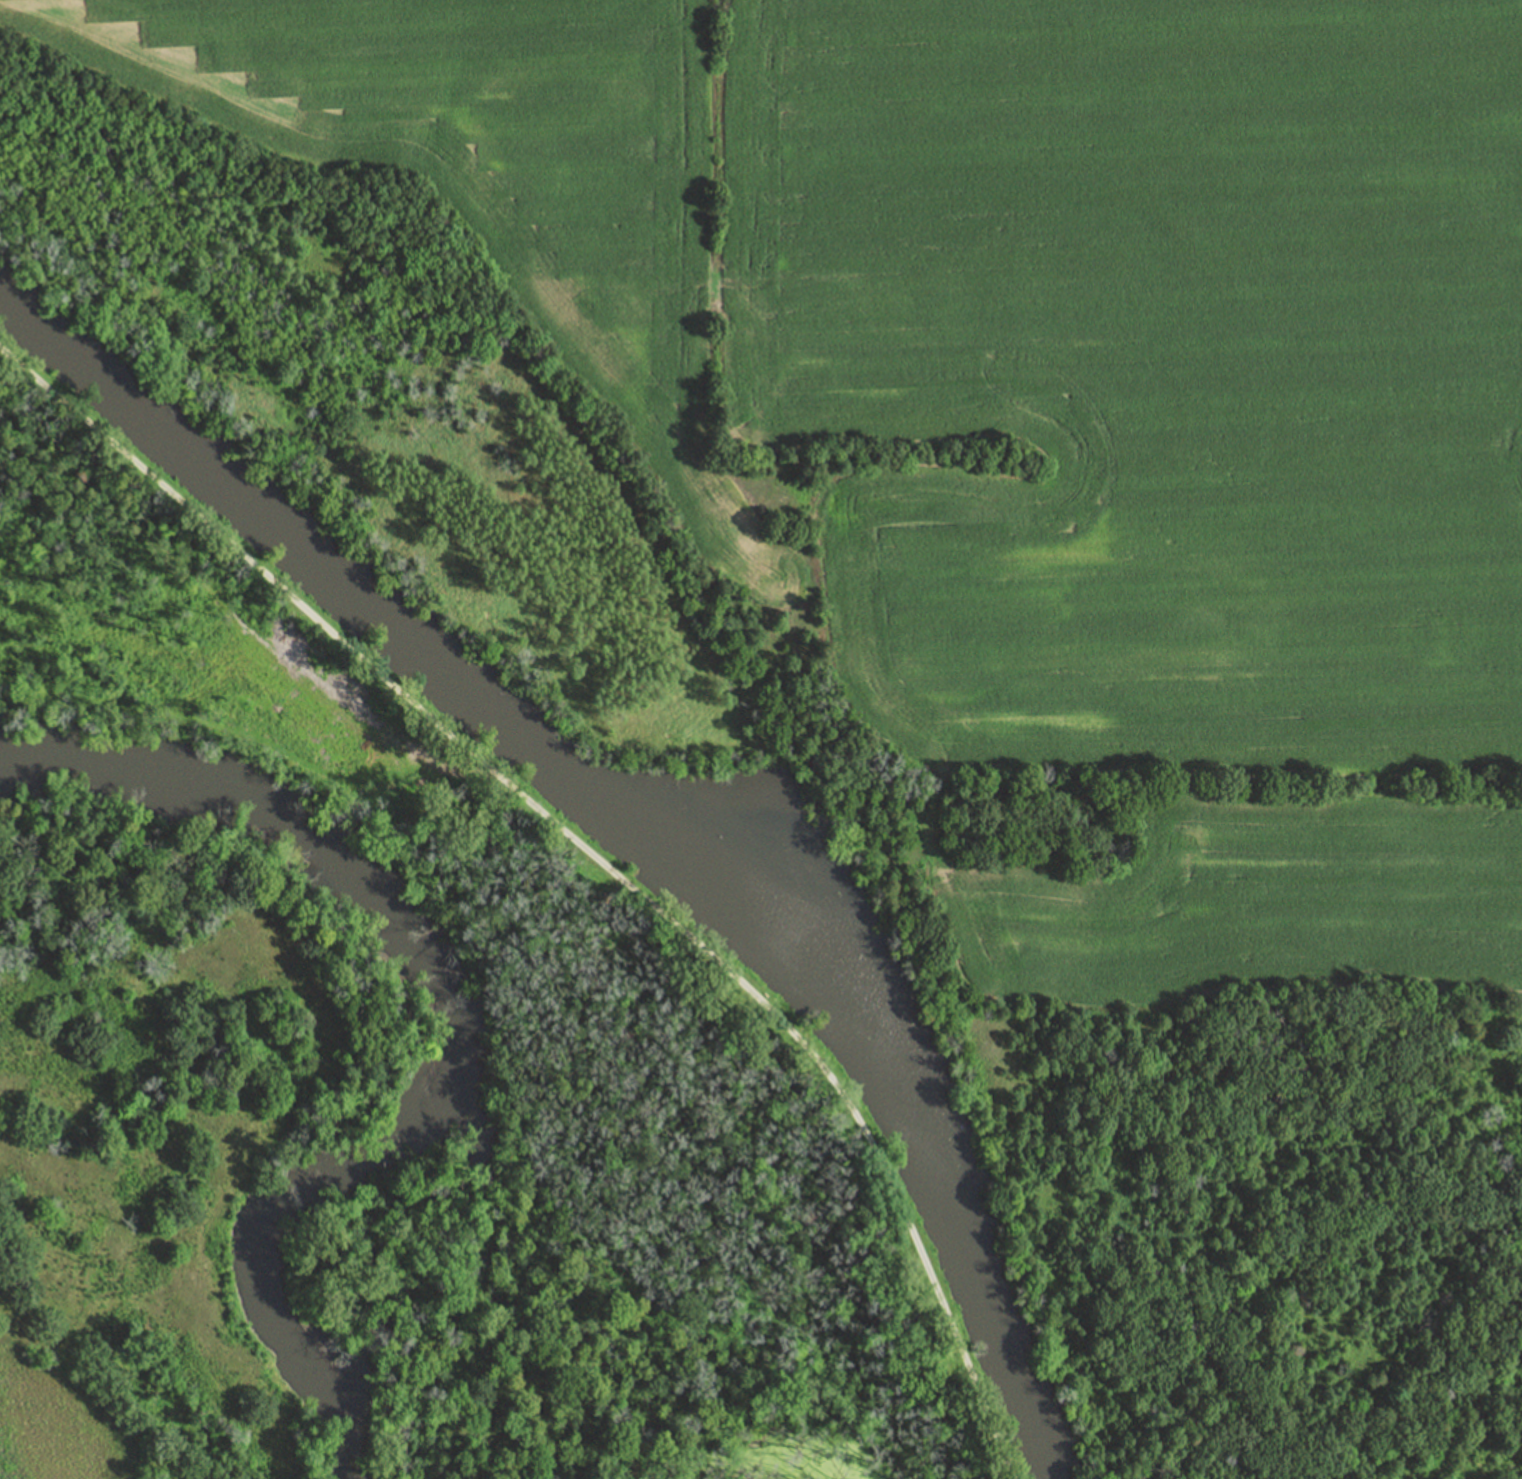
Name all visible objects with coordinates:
river: (276, 537)
road: (590, 848)
river: (433, 1018)
river: (887, 1081)

